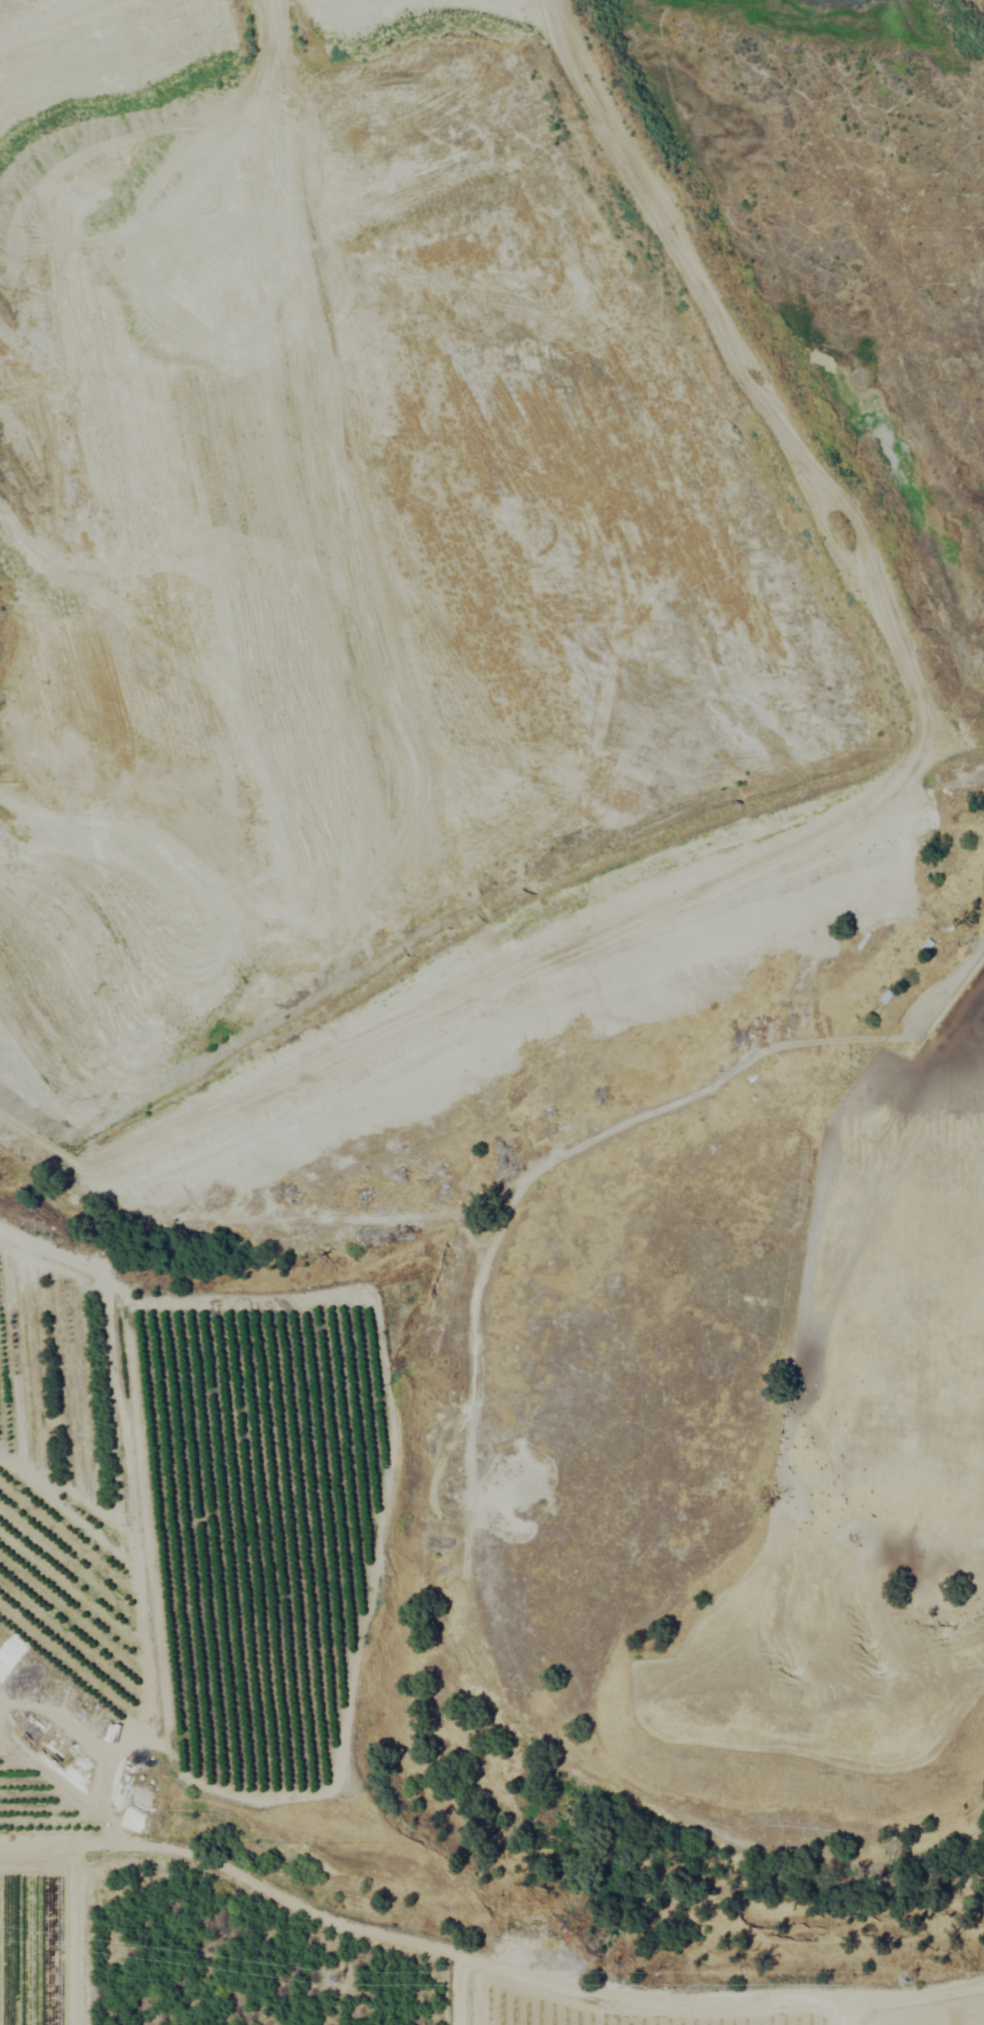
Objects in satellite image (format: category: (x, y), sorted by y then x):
building: (885, 997)
crop: (135, 1771)
crop: (868, 2015)

